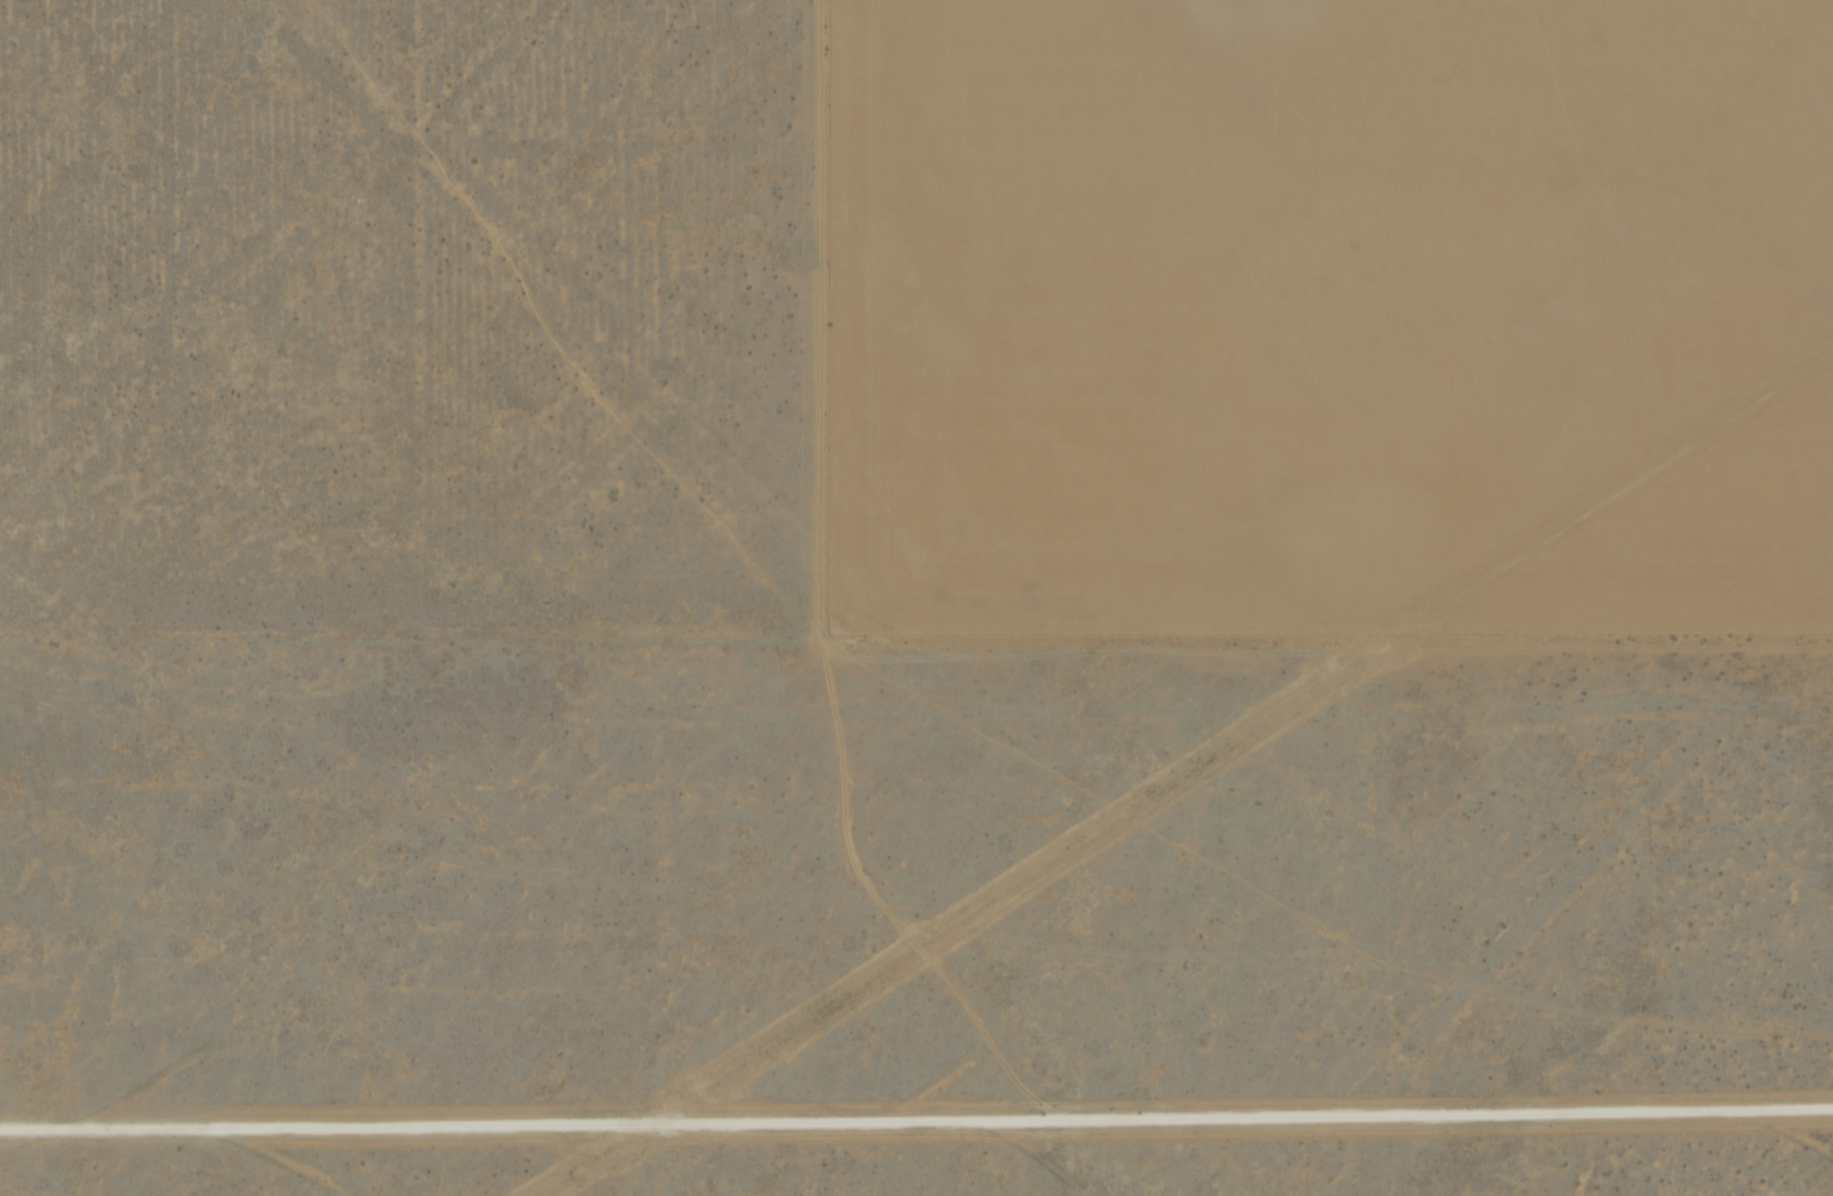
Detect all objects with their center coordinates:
road: (902, 932)

